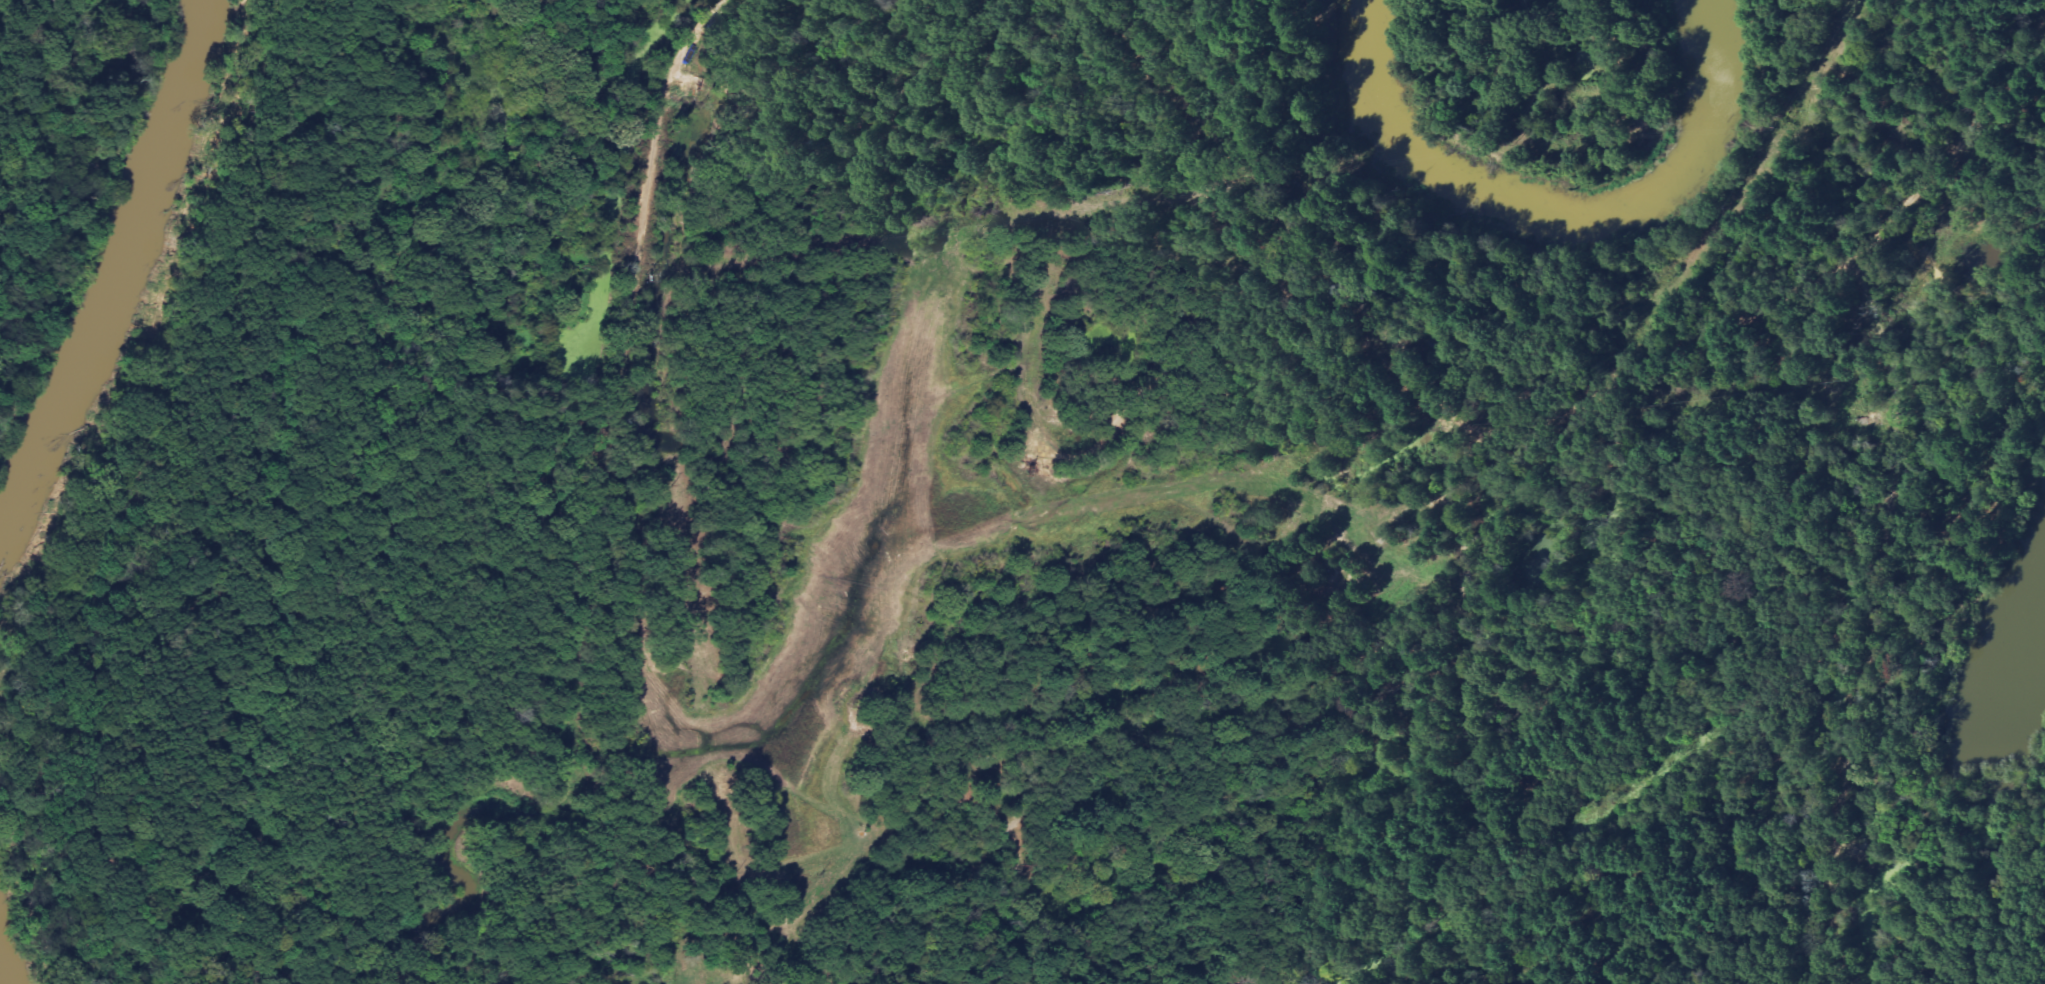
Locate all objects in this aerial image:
road: (1610, 59)
road: (1283, 222)
river: (119, 272)
road: (1178, 364)
road: (605, 515)
road: (1461, 517)
road: (1857, 704)
road: (1979, 807)
road: (582, 939)
river: (3, 971)

